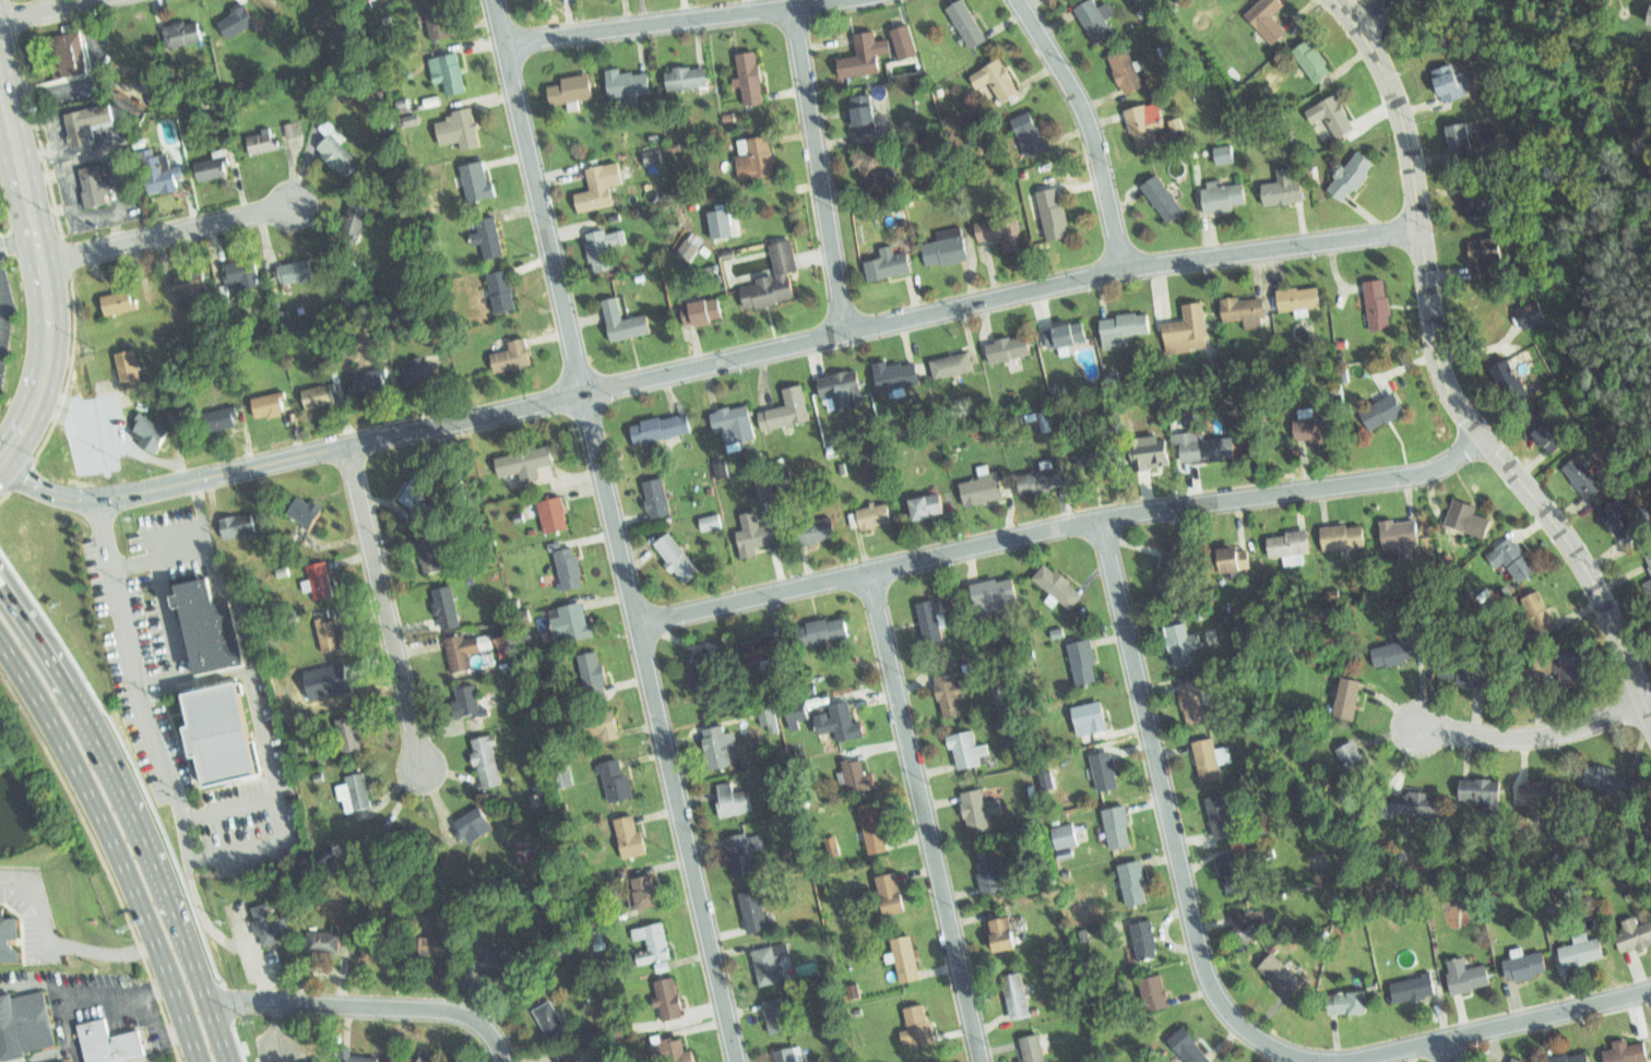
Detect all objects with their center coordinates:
road: (35, 8)
road: (1365, 9)
road: (1382, 15)
building: (438, 16)
building: (235, 17)
building: (1096, 20)
road: (675, 21)
building: (1266, 21)
building: (1650, 21)
building: (965, 27)
building: (186, 31)
building: (905, 44)
building: (66, 53)
building: (863, 55)
building: (1316, 61)
road: (99, 64)
building: (1127, 71)
building: (689, 74)
building: (452, 75)
building: (999, 76)
building: (749, 77)
building: (626, 82)
building: (1450, 83)
building: (568, 88)
building: (863, 115)
building: (1333, 116)
building: (409, 119)
building: (86, 127)
road: (1090, 127)
building: (1145, 127)
building: (290, 129)
building: (460, 130)
building: (1030, 135)
building: (1463, 138)
building: (266, 142)
building: (1224, 154)
building: (337, 156)
building: (652, 156)
road: (64, 157)
building: (762, 157)
road: (8, 164)
building: (213, 169)
road: (819, 169)
building: (159, 172)
building: (872, 176)
building: (1353, 177)
building: (475, 183)
building: (95, 186)
building: (601, 186)
building: (1283, 191)
building: (1164, 195)
building: (1226, 198)
building: (1477, 200)
building: (1056, 212)
building: (721, 223)
building: (356, 224)
road: (116, 225)
road: (166, 232)
building: (1000, 232)
building: (490, 236)
building: (1486, 237)
road: (16, 238)
building: (605, 246)
building: (688, 248)
building: (946, 251)
building: (1483, 253)
building: (890, 267)
building: (244, 271)
building: (296, 271)
building: (783, 274)
road: (44, 281)
building: (190, 289)
building: (502, 290)
building: (1304, 298)
building: (119, 303)
building: (1378, 305)
building: (1243, 307)
building: (702, 312)
building: (1535, 315)
building: (625, 322)
building: (1123, 325)
building: (1191, 325)
building: (1065, 332)
building: (1009, 349)
road: (757, 353)
building: (513, 355)
building: (955, 362)
building: (1211, 367)
building: (128, 370)
building: (420, 373)
building: (902, 375)
road: (1445, 378)
building: (1509, 380)
building: (369, 383)
building: (846, 390)
building: (320, 396)
building: (271, 406)
building: (1383, 410)
building: (793, 411)
building: (223, 417)
building: (733, 421)
building: (664, 427)
building: (151, 428)
building: (1313, 428)
building: (1546, 431)
road: (103, 440)
building: (1203, 452)
building: (1096, 455)
building: (1148, 455)
building: (527, 462)
building: (721, 468)
building: (1042, 478)
building: (1585, 478)
building: (764, 488)
building: (986, 489)
road: (45, 491)
building: (421, 491)
building: (656, 494)
building: (929, 508)
building: (306, 510)
building: (555, 511)
building: (874, 517)
building: (1468, 518)
building: (710, 522)
building: (1623, 523)
road: (1064, 524)
building: (239, 526)
road: (617, 530)
building: (816, 530)
building: (1400, 532)
building: (755, 535)
building: (1341, 535)
building: (1290, 544)
building: (431, 553)
building: (1647, 556)
building: (677, 557)
building: (1513, 558)
building: (1230, 560)
road: (134, 562)
building: (570, 569)
building: (1169, 569)
road: (159, 577)
building: (320, 583)
building: (1648, 587)
building: (1059, 589)
building: (994, 596)
road: (385, 608)
building: (448, 608)
building: (931, 619)
building: (574, 621)
building: (1534, 624)
building: (828, 628)
building: (205, 629)
building: (330, 637)
building: (506, 641)
building: (763, 644)
building: (1184, 647)
building: (1394, 651)
building: (460, 655)
building: (1084, 661)
building: (1463, 665)
building: (1572, 668)
building: (709, 670)
building: (593, 672)
road: (136, 681)
building: (331, 681)
building: (287, 692)
building: (953, 695)
building: (1346, 697)
building: (466, 701)
building: (1192, 705)
building: (796, 714)
building: (769, 718)
building: (840, 719)
building: (605, 720)
building: (1089, 721)
road: (1531, 733)
building: (351, 735)
building: (214, 736)
road: (263, 737)
building: (716, 742)
road: (92, 745)
building: (967, 752)
building: (1205, 759)
building: (1354, 761)
building: (485, 762)
building: (1106, 774)
building: (1610, 776)
building: (618, 777)
building: (859, 777)
building: (1478, 788)
building: (1540, 788)
building: (358, 792)
building: (1414, 799)
building: (731, 802)
building: (978, 811)
road: (925, 815)
road: (281, 816)
building: (1223, 819)
building: (1649, 820)
building: (473, 828)
building: (1118, 828)
building: (876, 832)
building: (630, 834)
building: (1065, 835)
road: (114, 844)
building: (527, 849)
building: (746, 851)
building: (989, 873)
building: (1235, 873)
building: (1135, 885)
building: (645, 891)
building: (893, 896)
building: (753, 911)
building: (269, 923)
building: (1248, 927)
building: (1005, 934)
building: (1637, 935)
building: (1147, 938)
building: (10, 940)
building: (323, 942)
road: (55, 946)
building: (651, 946)
building: (381, 948)
building: (441, 953)
road: (254, 955)
building: (1582, 956)
building: (908, 962)
building: (498, 963)
building: (765, 968)
building: (1523, 968)
building: (1279, 975)
building: (1464, 978)
road: (1211, 982)
road: (197, 985)
building: (1415, 990)
building: (1152, 993)
road: (79, 998)
building: (669, 998)
building: (1020, 998)
road: (368, 1003)
building: (1349, 1005)
building: (775, 1016)
building: (549, 1021)
building: (28, 1025)
building: (919, 1025)
building: (618, 1029)
road: (275, 1033)
building: (107, 1046)
building: (1190, 1049)
building: (1032, 1050)
road: (1448, 1050)
building: (787, 1053)
building: (1628, 1053)
building: (674, 1054)
building: (363, 1055)
building: (1571, 1057)
building: (429, 1058)
building: (310, 1059)
building: (566, 1059)
building: (62, 1061)
building: (1513, 1061)

